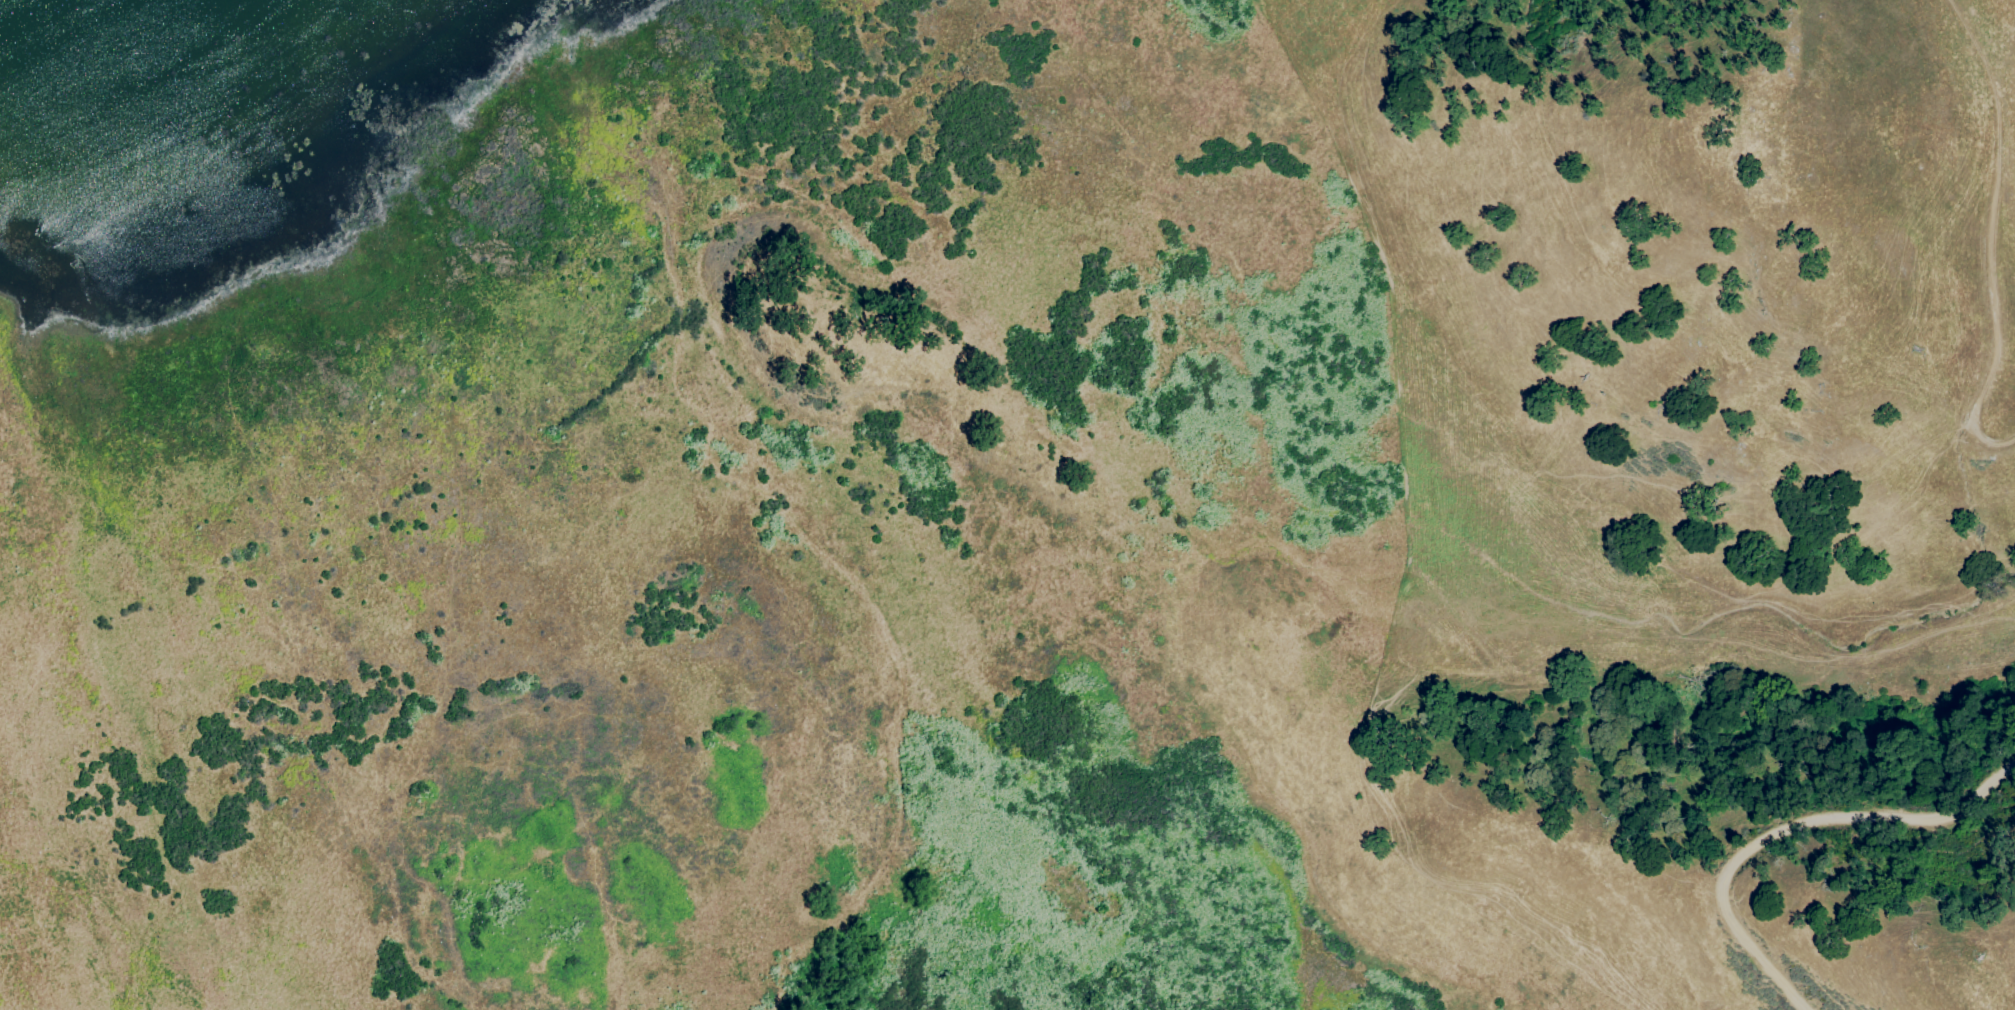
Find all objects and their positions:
road: (1790, 831)

